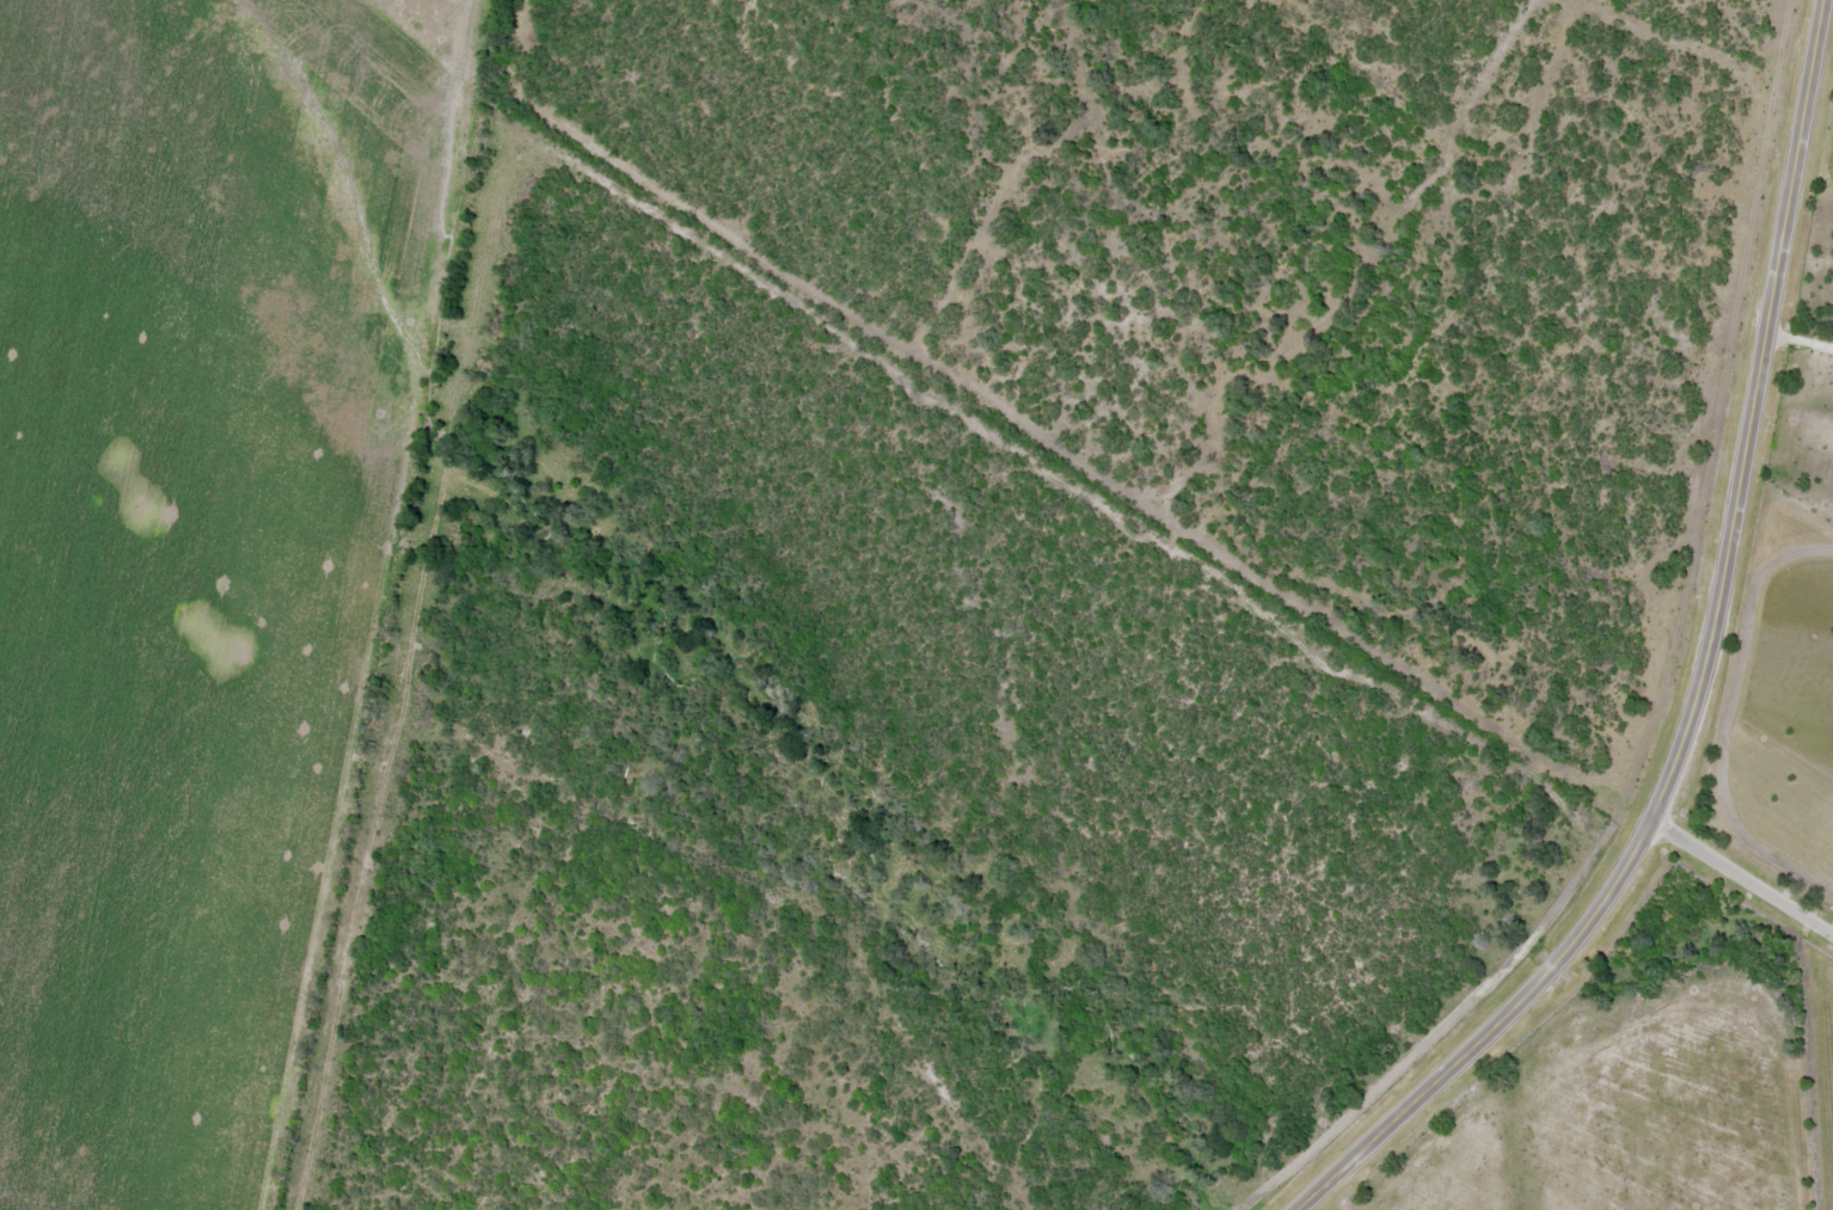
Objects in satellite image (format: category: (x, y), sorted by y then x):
road: (1798, 343)
road: (1700, 672)
road: (1741, 877)

